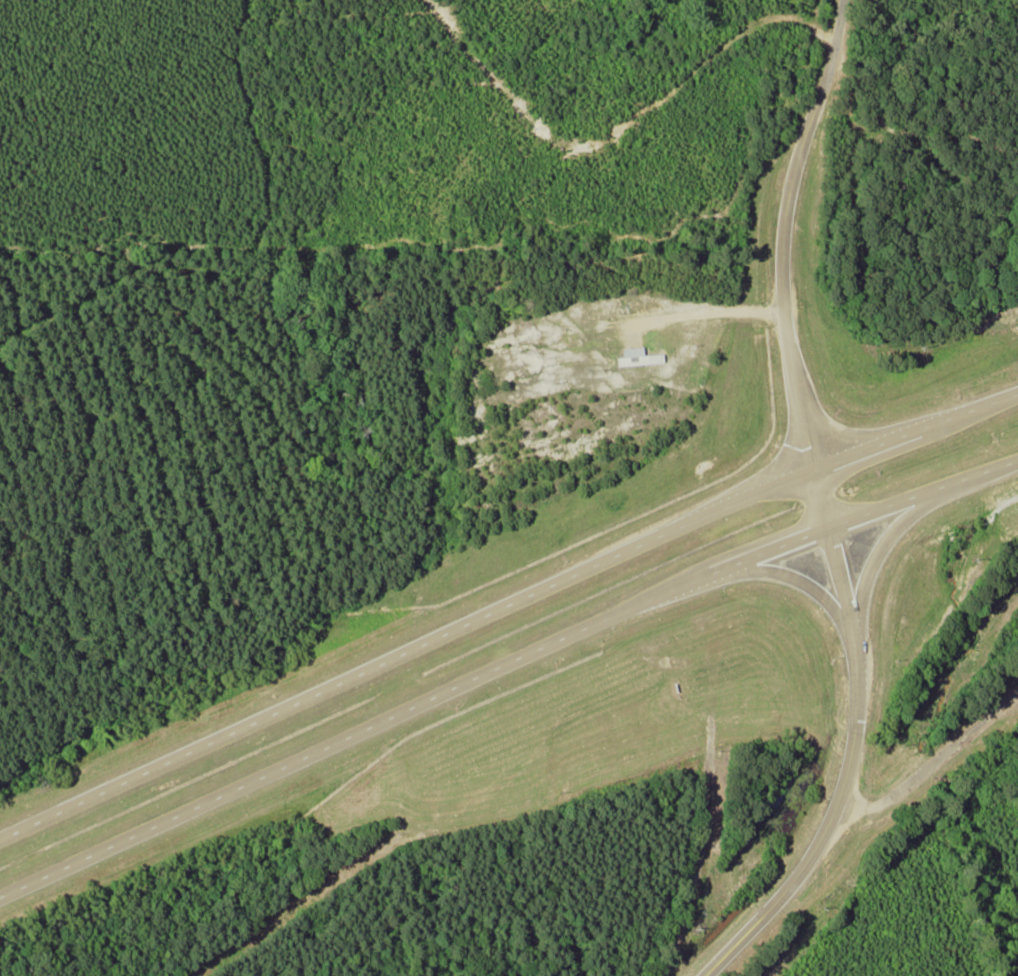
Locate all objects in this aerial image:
road: (783, 234)
building: (634, 356)
road: (878, 552)
road: (789, 576)
road: (504, 605)
road: (502, 664)
road: (848, 746)

